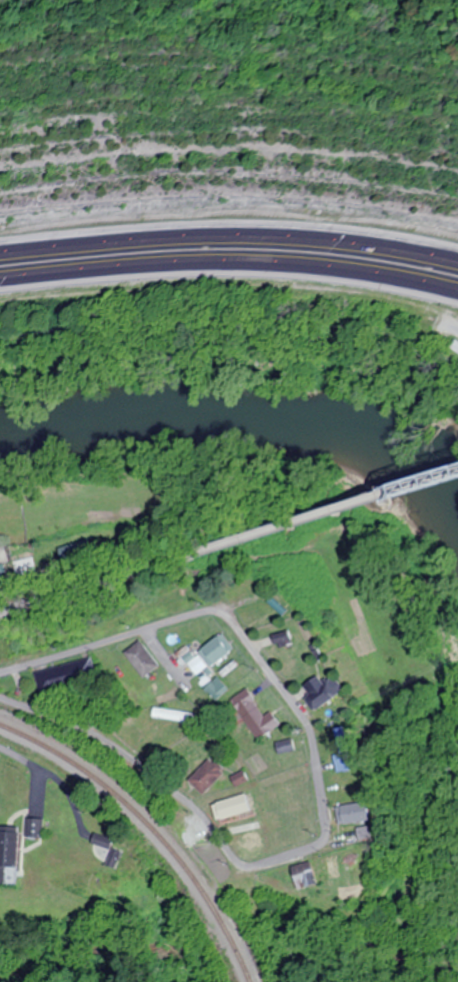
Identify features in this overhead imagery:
road: (229, 233)
road: (229, 267)
building: (454, 345)
river: (242, 422)
road: (309, 516)
building: (2, 572)
road: (80, 589)
building: (286, 638)
building: (221, 650)
building: (146, 659)
building: (202, 665)
building: (70, 674)
building: (221, 689)
building: (326, 693)
building: (260, 715)
building: (290, 747)
road: (14, 753)
building: (353, 757)
building: (211, 775)
road: (322, 795)
building: (237, 807)
building: (355, 813)
building: (39, 827)
railway: (152, 827)
building: (254, 840)
building: (106, 841)
building: (10, 853)
building: (119, 858)
building: (357, 873)
building: (307, 875)

